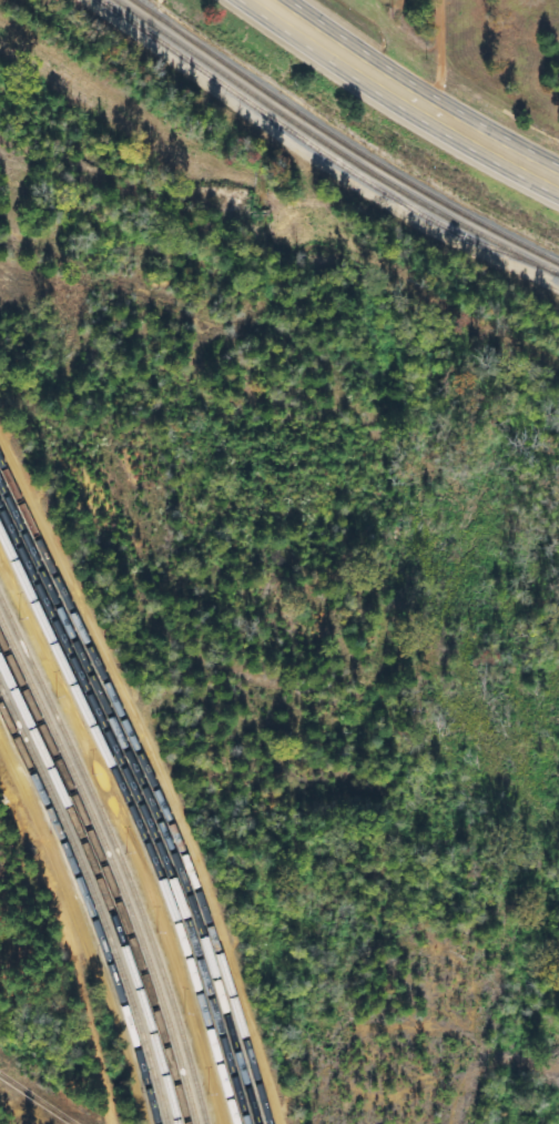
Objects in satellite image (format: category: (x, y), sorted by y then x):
road: (414, 93)
railway: (341, 141)
railway: (329, 148)
railway: (152, 789)
railway: (146, 799)
railway: (142, 809)
railway: (136, 821)
railway: (118, 857)
railway: (112, 867)
railway: (106, 878)
railway: (99, 888)
railway: (94, 900)
railway: (90, 911)

